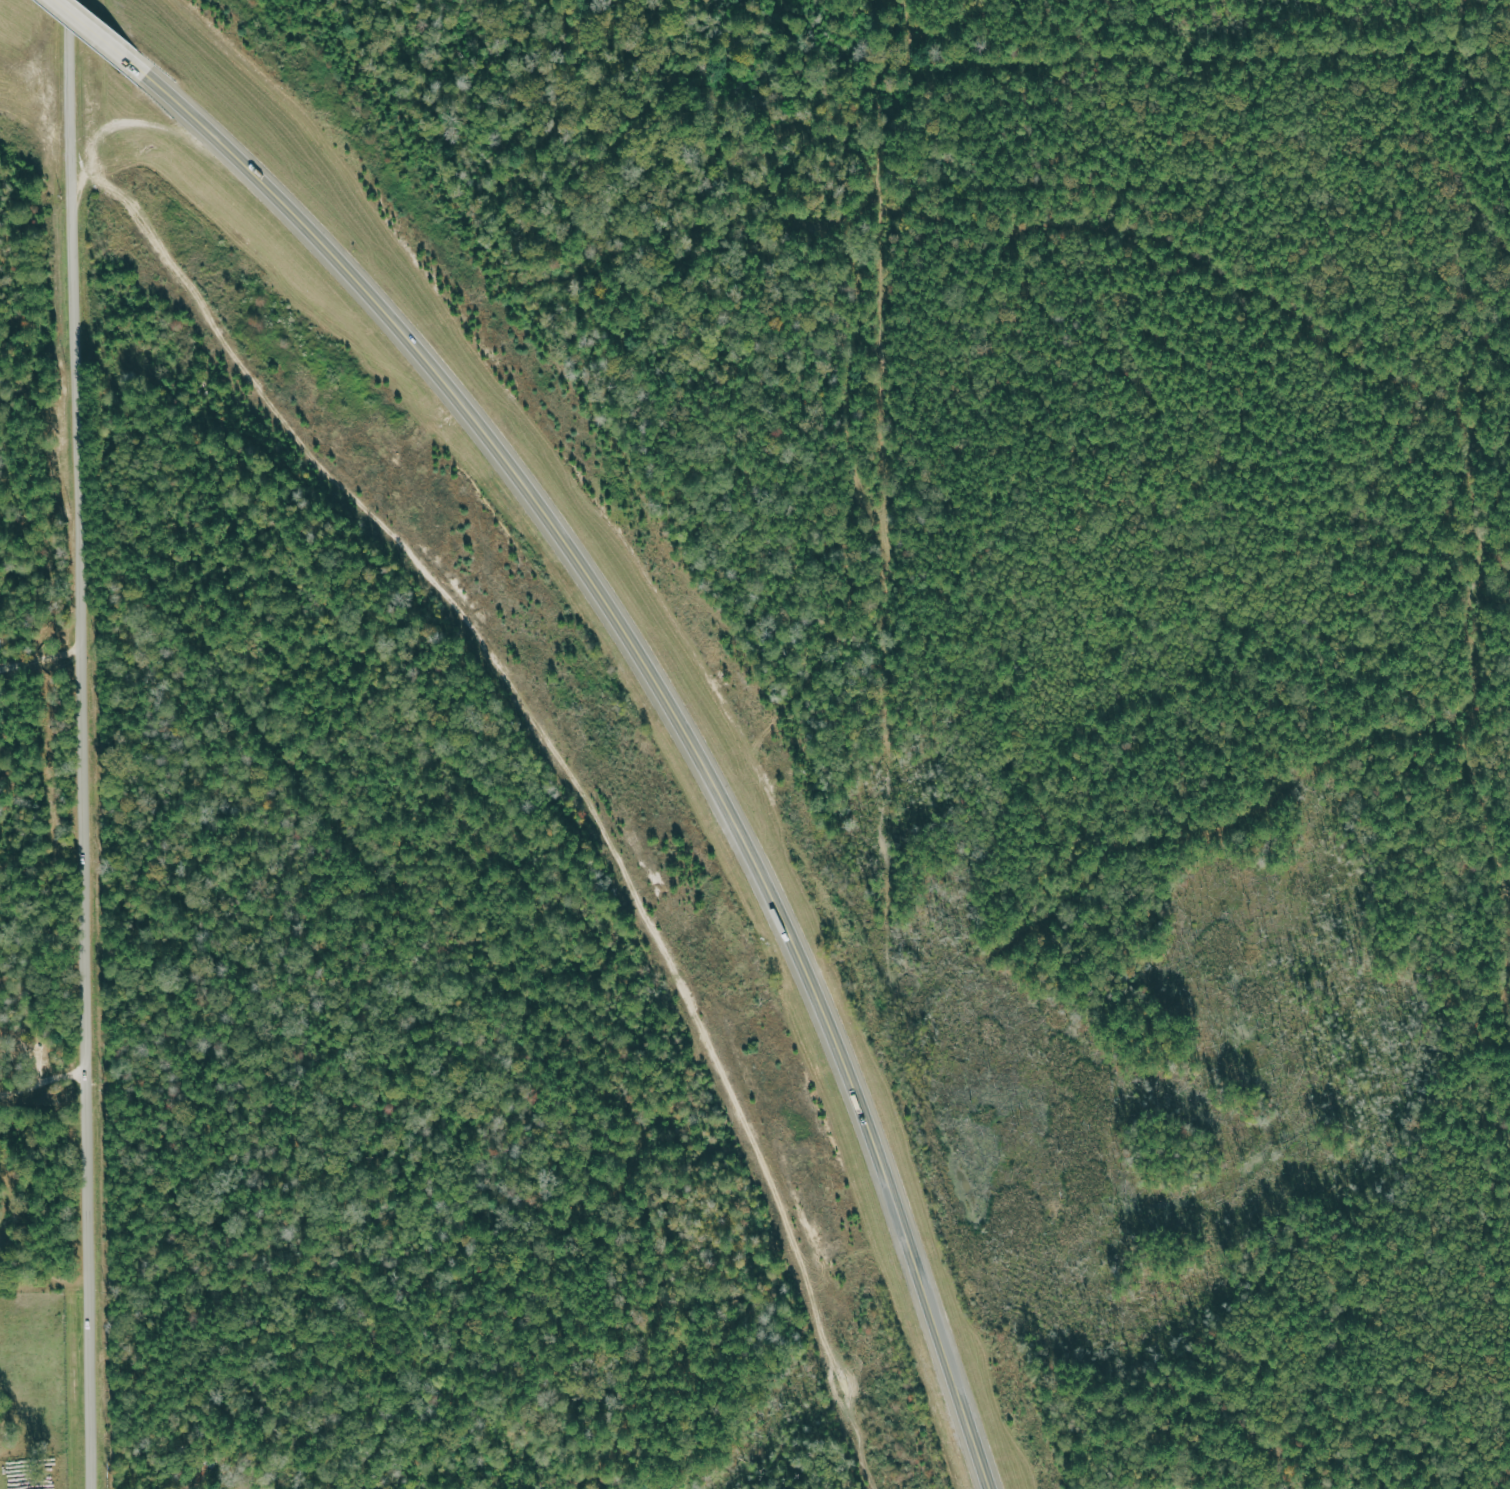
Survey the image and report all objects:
road: (90, 29)
road: (670, 704)
road: (84, 744)
road: (45, 1083)

